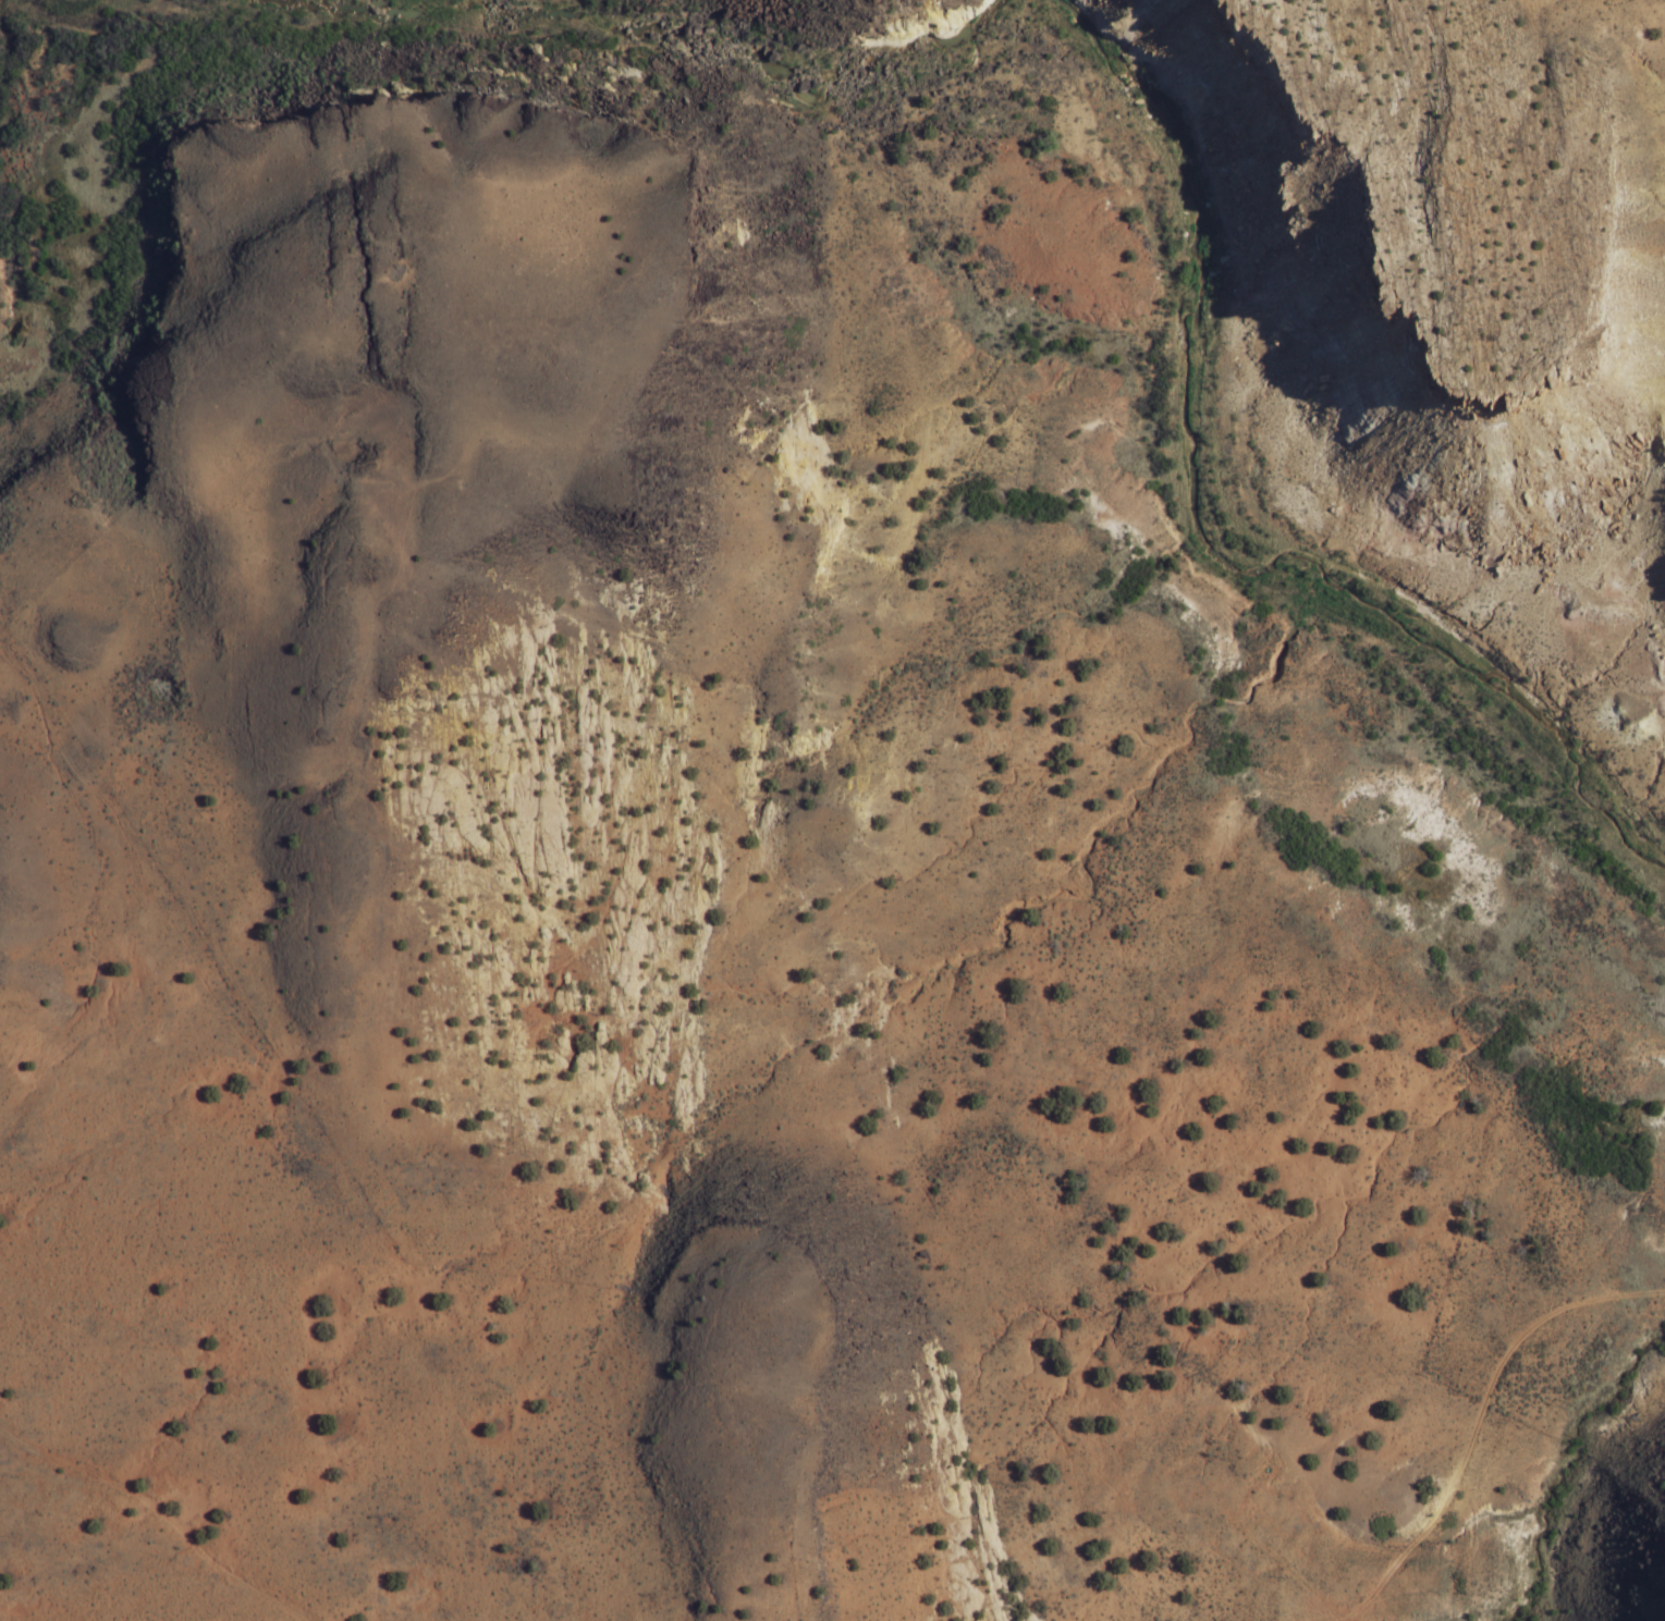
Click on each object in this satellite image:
road: (1481, 1421)

